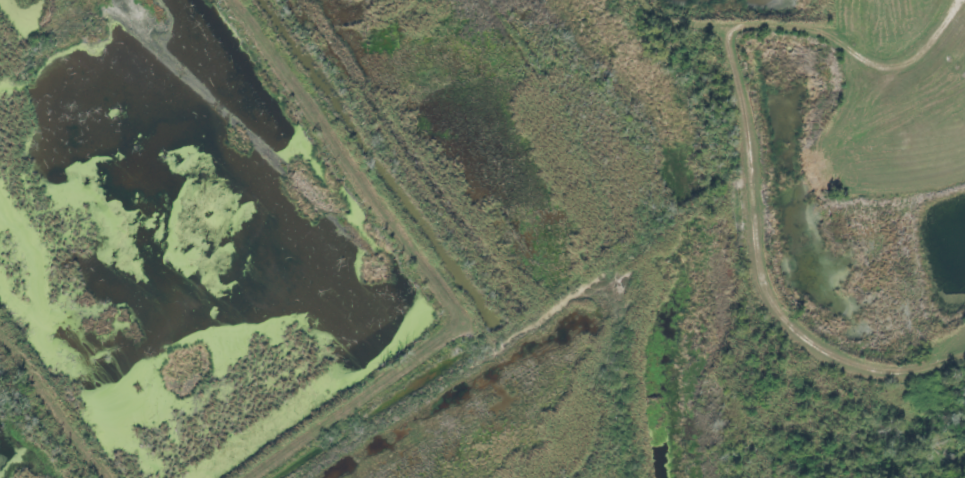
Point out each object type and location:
road: (740, 141)

